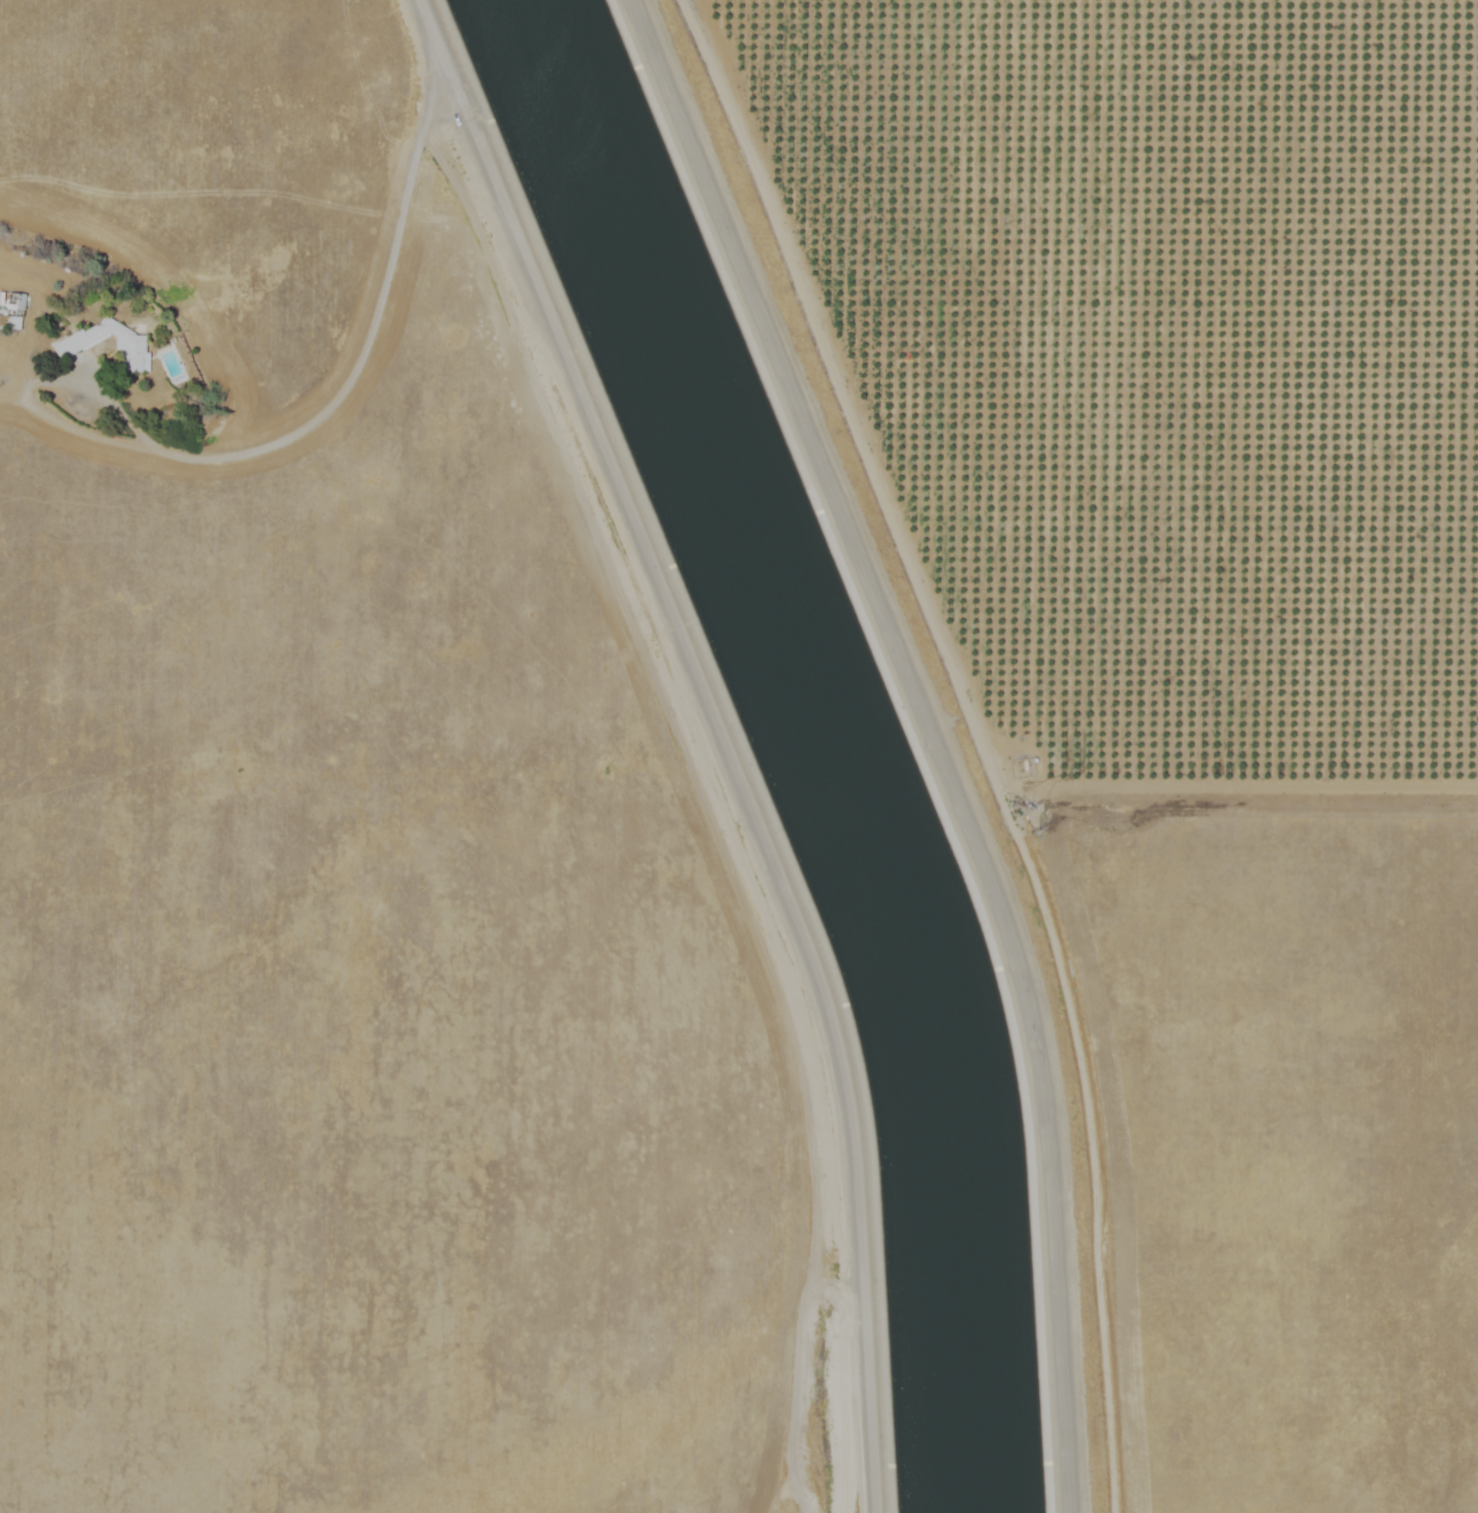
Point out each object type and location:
building: (10, 310)
building: (70, 344)
building: (129, 353)
road: (352, 379)
crop: (1226, 641)
road: (720, 737)
crop: (356, 848)

